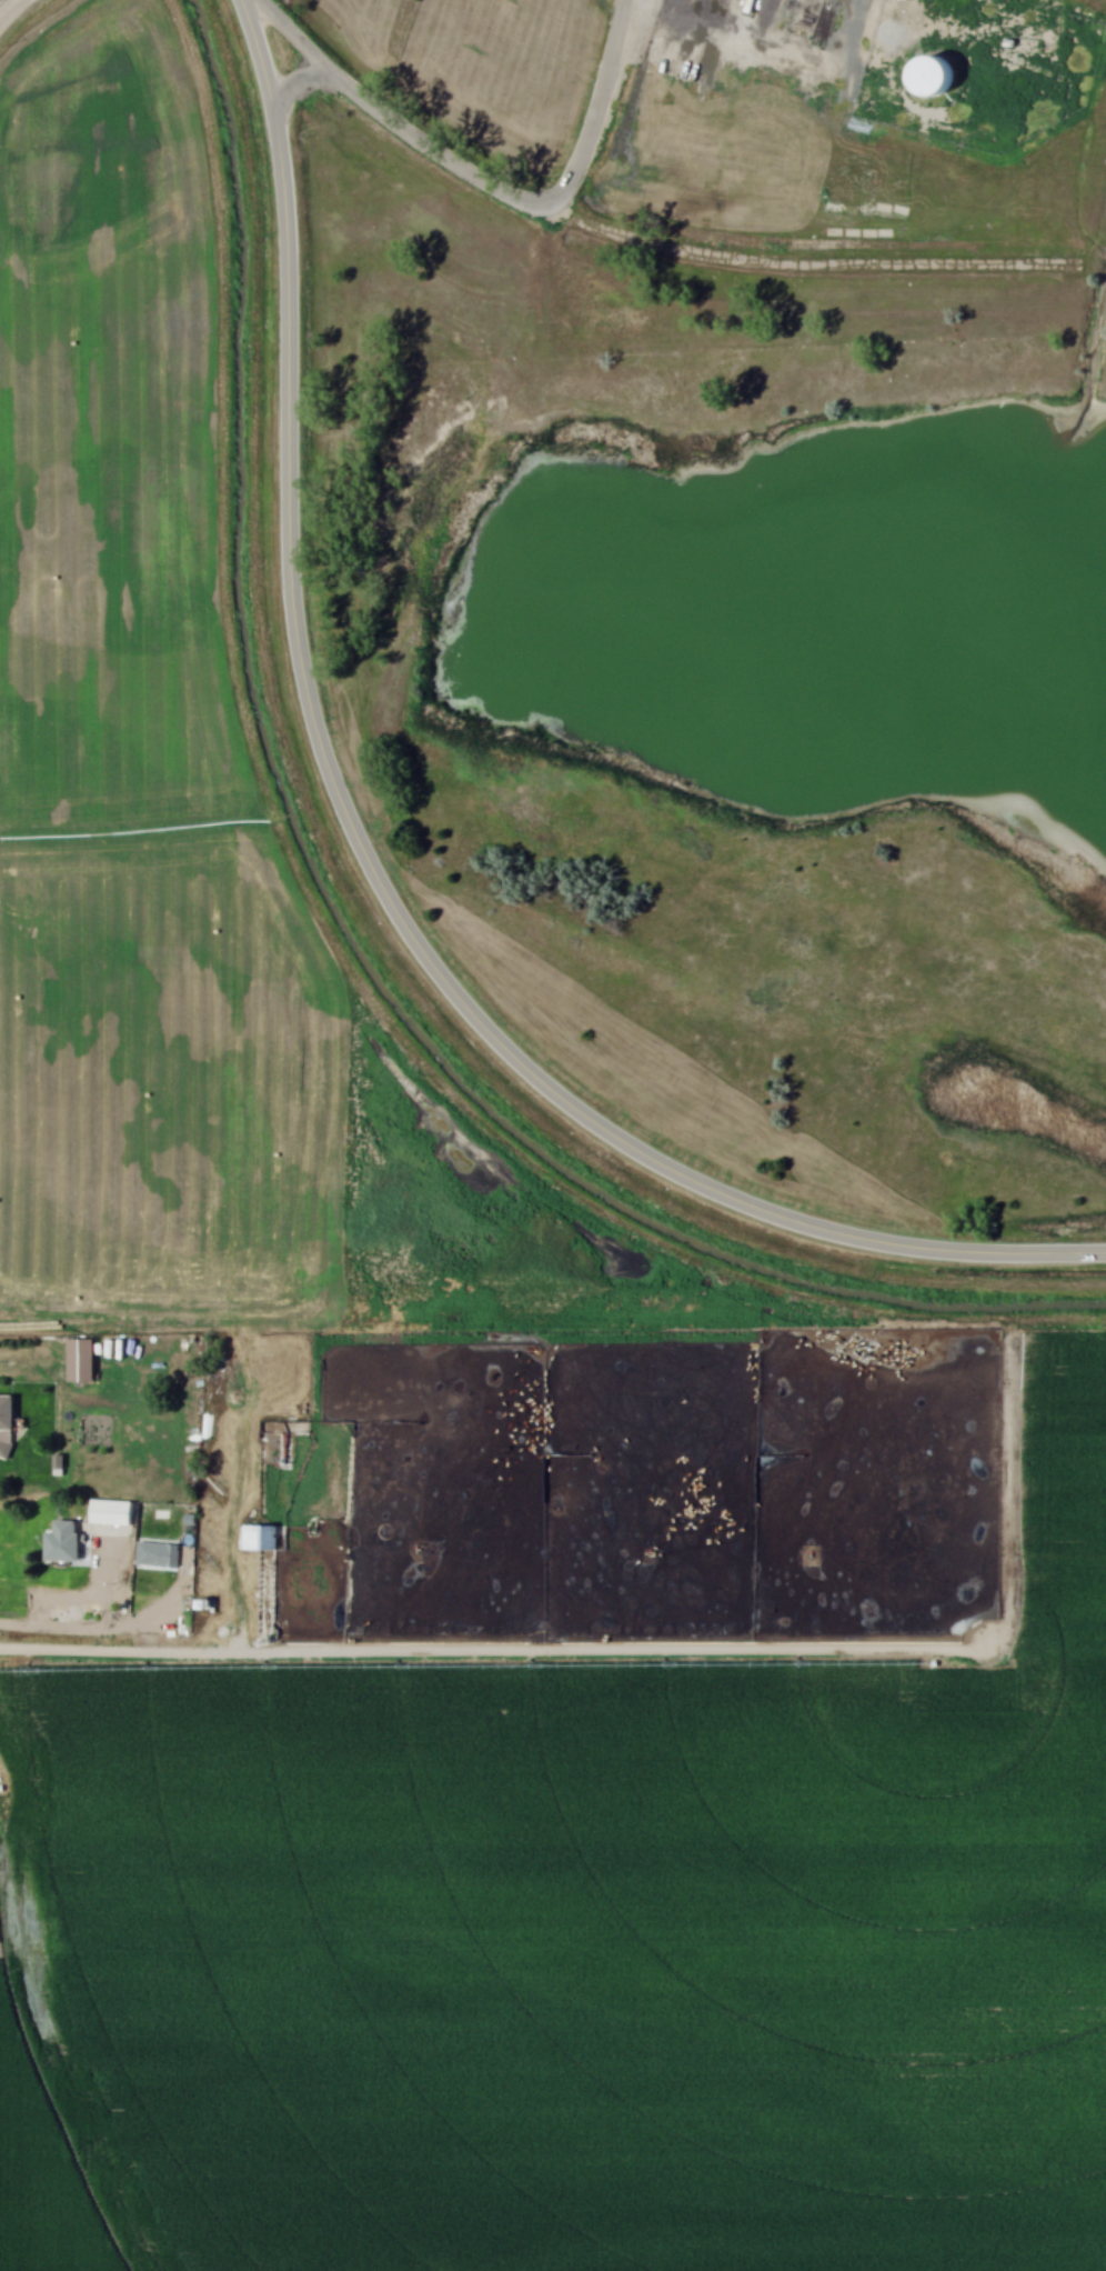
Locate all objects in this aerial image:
road: (10, 9)
road: (1023, 23)
building: (928, 78)
road: (295, 83)
road: (484, 181)
crop: (141, 732)
road: (369, 866)
building: (83, 1354)
building: (7, 1409)
building: (114, 1508)
building: (257, 1537)
building: (61, 1542)
building: (157, 1554)
road: (83, 1598)
crop: (573, 1951)

